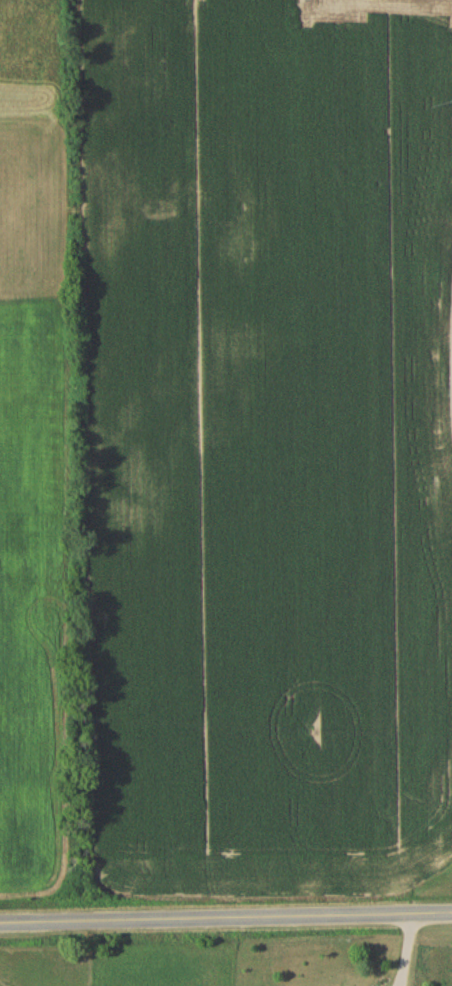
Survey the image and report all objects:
road: (226, 918)
road: (408, 950)

